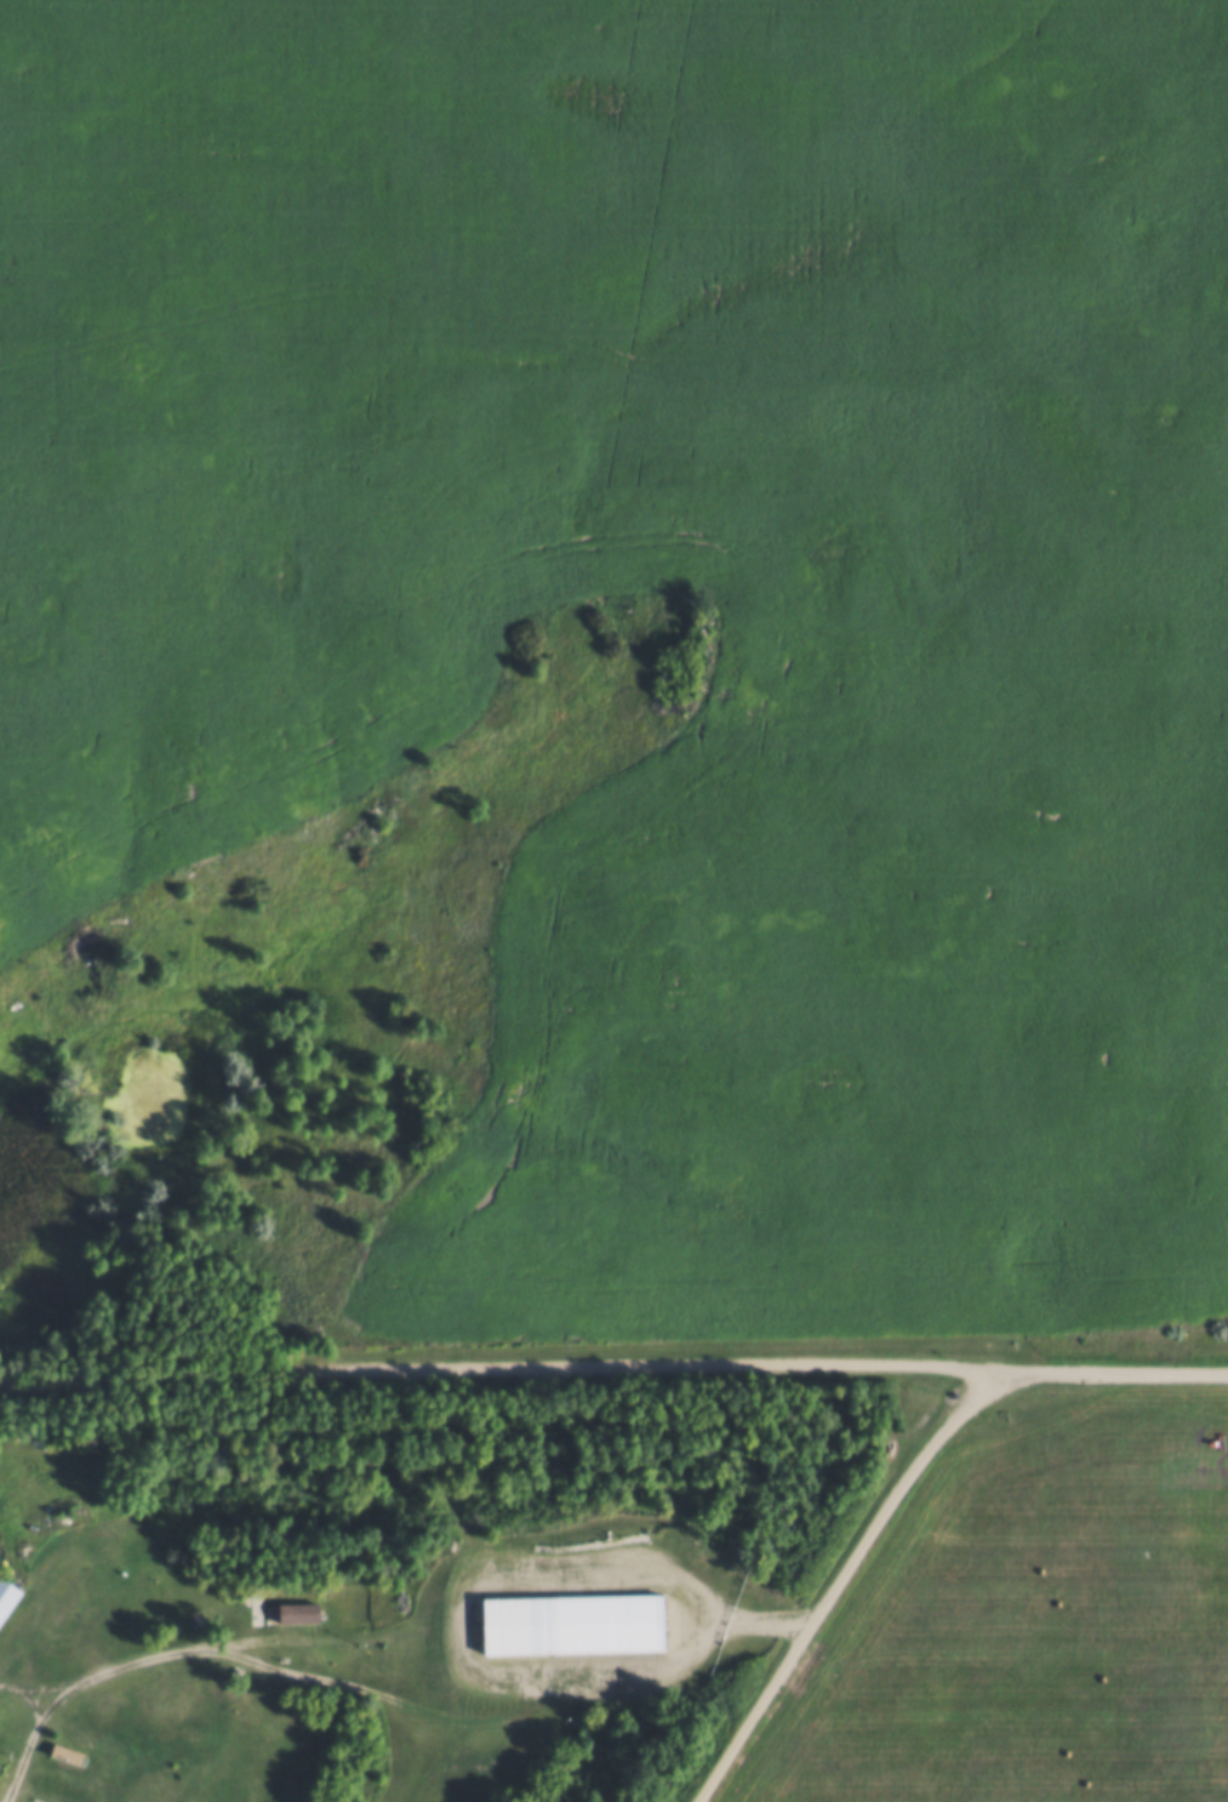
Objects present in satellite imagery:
road: (497, 1374)
road: (1112, 1374)
road: (840, 1583)
building: (5, 1592)
building: (295, 1608)
road: (207, 1652)
road: (21, 1695)
building: (64, 1750)

